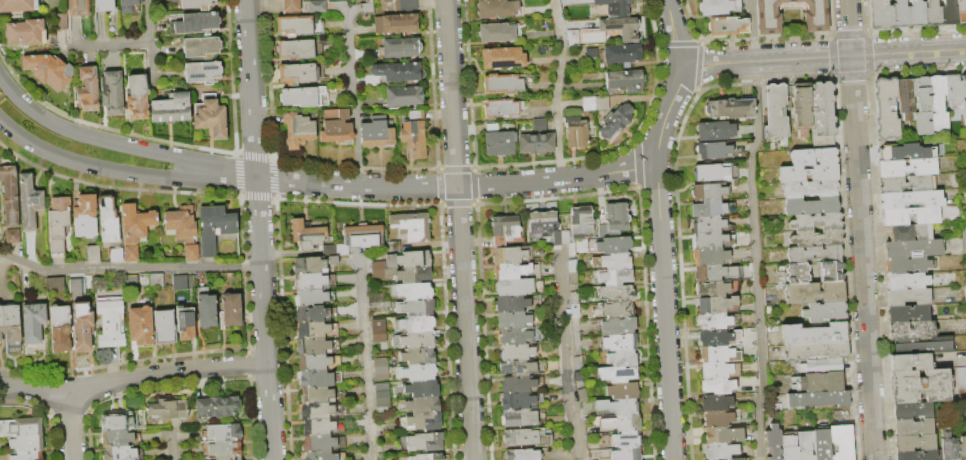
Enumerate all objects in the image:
building: (386, 0)
building: (103, 4)
building: (197, 4)
building: (17, 5)
building: (127, 6)
building: (291, 6)
building: (314, 6)
building: (406, 6)
building: (718, 6)
building: (78, 7)
building: (367, 7)
building: (615, 7)
building: (497, 8)
building: (961, 11)
building: (949, 12)
building: (916, 13)
building: (900, 14)
building: (932, 14)
building: (879, 15)
building: (815, 17)
building: (60, 21)
building: (396, 23)
building: (195, 24)
building: (295, 24)
building: (727, 26)
building: (621, 28)
building: (25, 32)
building: (498, 32)
road: (674, 32)
road: (148, 42)
road: (107, 44)
building: (401, 47)
building: (201, 48)
building: (301, 49)
building: (591, 53)
building: (622, 54)
road: (822, 56)
building: (503, 58)
building: (48, 70)
building: (398, 71)
building: (203, 72)
building: (297, 73)
building: (625, 81)
building: (503, 84)
building: (87, 88)
road: (251, 88)
road: (556, 89)
building: (953, 89)
building: (111, 93)
road: (451, 93)
road: (353, 95)
building: (299, 96)
building: (403, 96)
building: (963, 96)
building: (137, 97)
building: (905, 99)
building: (601, 103)
building: (937, 103)
building: (588, 104)
building: (921, 106)
building: (502, 107)
building: (800, 107)
building: (171, 108)
building: (730, 108)
building: (885, 109)
building: (775, 111)
road: (665, 114)
building: (822, 115)
building: (210, 116)
building: (615, 122)
building: (539, 125)
building: (336, 126)
building: (298, 130)
building: (715, 131)
building: (575, 132)
building: (377, 134)
building: (414, 134)
building: (533, 139)
building: (499, 141)
road: (119, 144)
building: (713, 150)
building: (903, 151)
building: (813, 156)
building: (907, 167)
road: (122, 171)
building: (710, 172)
building: (808, 173)
road: (556, 179)
road: (356, 184)
building: (906, 184)
building: (810, 189)
building: (708, 192)
building: (9, 196)
building: (911, 199)
building: (28, 202)
building: (811, 206)
building: (711, 208)
building: (84, 216)
building: (616, 218)
building: (894, 218)
building: (107, 219)
building: (816, 221)
building: (136, 223)
building: (581, 223)
building: (542, 224)
building: (708, 224)
building: (58, 225)
building: (412, 226)
building: (214, 228)
building: (503, 229)
road: (753, 229)
road: (860, 229)
building: (183, 230)
building: (909, 232)
building: (307, 234)
building: (362, 234)
building: (964, 235)
building: (11, 236)
building: (560, 238)
building: (817, 238)
building: (708, 241)
building: (613, 245)
building: (956, 246)
building: (913, 248)
building: (335, 250)
building: (93, 253)
building: (131, 254)
building: (813, 254)
building: (115, 255)
building: (509, 255)
building: (406, 257)
building: (710, 257)
building: (612, 262)
building: (313, 264)
building: (908, 265)
road: (129, 267)
building: (515, 271)
building: (830, 271)
building: (401, 273)
building: (572, 273)
building: (716, 273)
building: (797, 273)
building: (612, 277)
building: (155, 280)
building: (130, 282)
building: (310, 282)
building: (906, 282)
building: (53, 283)
building: (179, 283)
building: (75, 285)
building: (518, 287)
building: (712, 288)
building: (414, 291)
building: (815, 292)
building: (616, 294)
building: (965, 294)
building: (313, 297)
building: (908, 297)
building: (377, 302)
building: (511, 303)
building: (574, 304)
building: (714, 305)
building: (415, 307)
building: (205, 308)
building: (617, 310)
building: (230, 311)
road: (664, 312)
building: (825, 312)
building: (311, 314)
building: (907, 314)
road: (264, 318)
building: (513, 320)
building: (32, 321)
building: (714, 321)
building: (109, 323)
building: (415, 323)
road: (464, 323)
building: (10, 324)
building: (185, 324)
building: (140, 326)
building: (618, 326)
building: (82, 327)
building: (163, 327)
building: (0, 329)
building: (59, 329)
building: (312, 330)
building: (912, 330)
building: (379, 333)
building: (813, 334)
building: (515, 336)
building: (715, 337)
building: (414, 340)
building: (616, 343)
building: (923, 345)
building: (312, 346)
building: (816, 351)
building: (516, 352)
road: (566, 354)
building: (716, 354)
building: (417, 356)
road: (366, 357)
building: (622, 358)
building: (317, 362)
building: (909, 362)
building: (822, 366)
building: (521, 368)
building: (381, 369)
building: (578, 369)
building: (719, 370)
building: (416, 372)
building: (617, 374)
road: (133, 378)
building: (315, 378)
building: (821, 382)
building: (961, 383)
building: (517, 384)
building: (718, 386)
building: (919, 386)
building: (421, 388)
building: (622, 391)
building: (316, 394)
building: (582, 396)
building: (382, 397)
building: (818, 399)
building: (517, 401)
building: (715, 403)
building: (423, 404)
building: (217, 406)
building: (617, 407)
building: (167, 408)
building: (316, 411)
building: (911, 411)
building: (517, 417)
building: (717, 419)
building: (117, 421)
building: (420, 421)
building: (623, 423)
road: (69, 424)
building: (21, 427)
building: (321, 427)
building: (913, 428)
building: (223, 432)
building: (722, 435)
building: (525, 437)
building: (116, 438)
building: (623, 439)
building: (425, 441)
building: (773, 442)
building: (842, 442)
building: (26, 443)
building: (322, 443)
building: (913, 443)
road: (171, 444)
building: (822, 444)
building: (805, 445)
building: (948, 447)
building: (225, 448)
building: (789, 448)
building: (962, 448)
building: (720, 451)
building: (118, 453)
building: (521, 454)
building: (626, 454)
building: (919, 455)
building: (27, 456)
building: (324, 456)
building: (424, 456)
building: (228, 458)
building: (732, 459)

